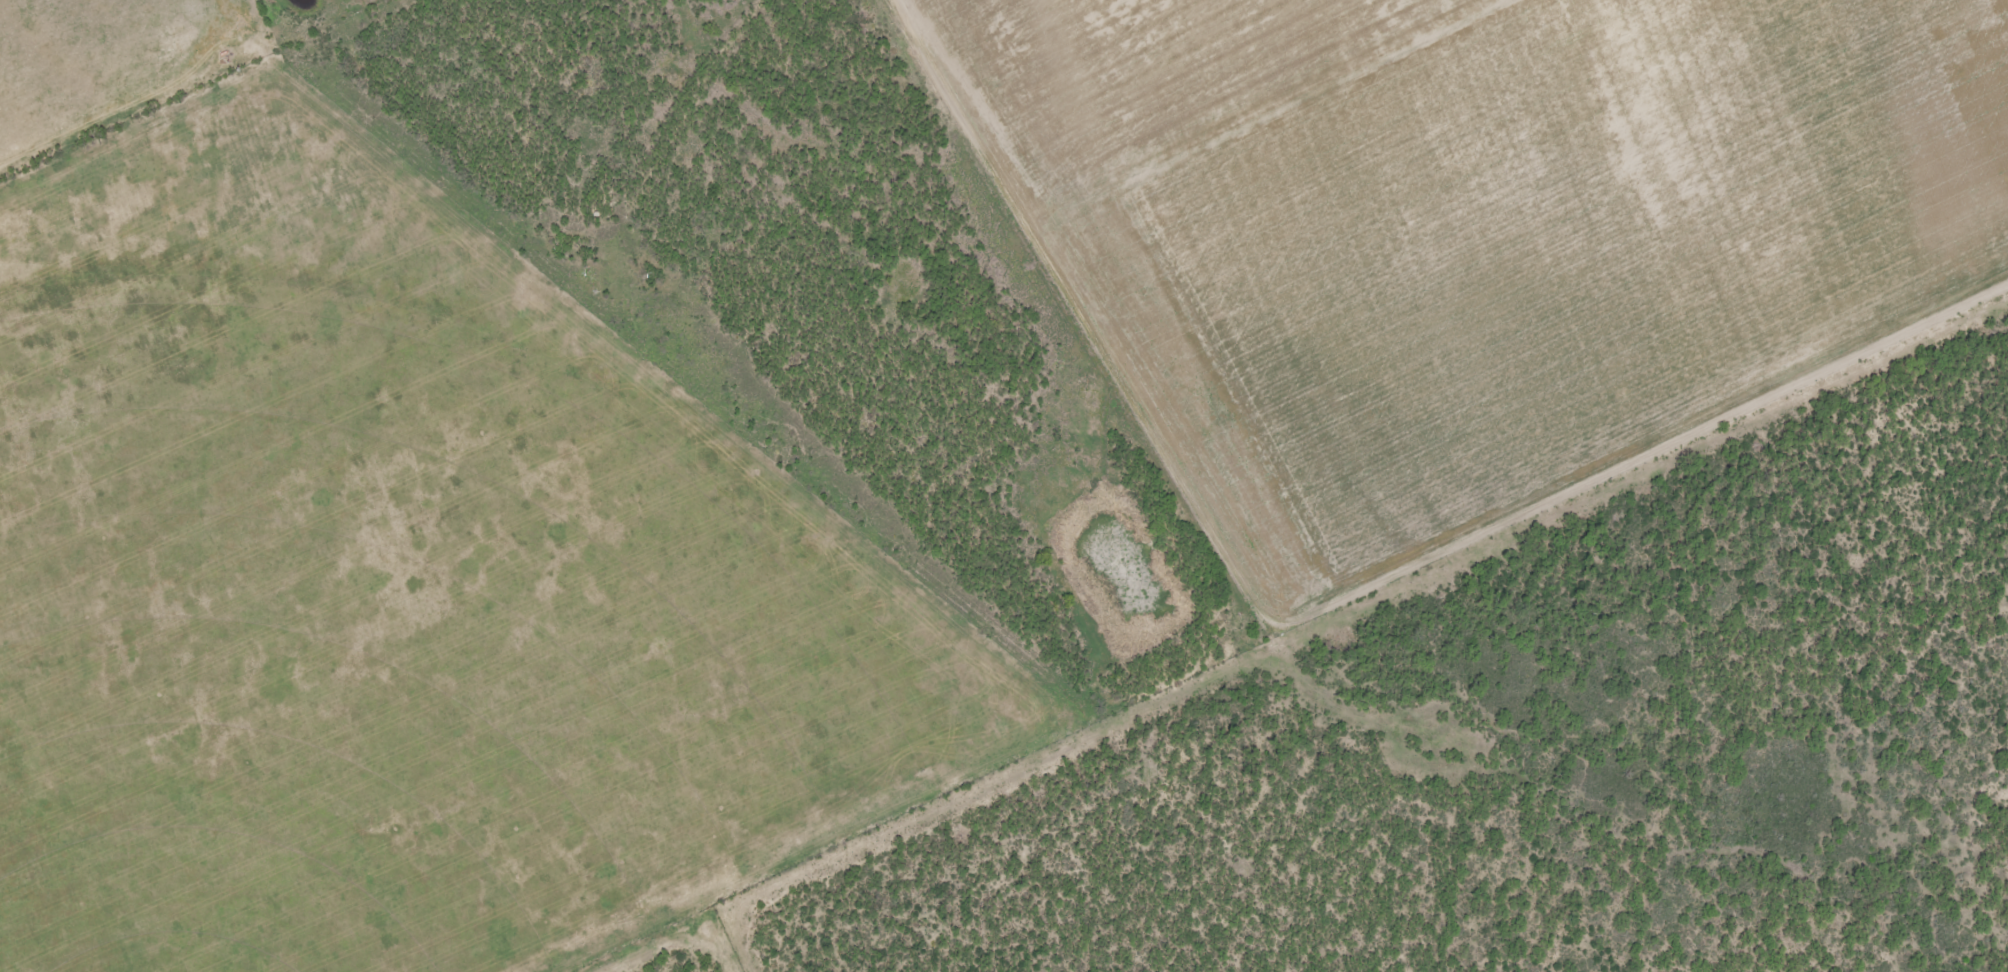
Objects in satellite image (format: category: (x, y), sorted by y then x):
road: (700, 66)
road: (725, 942)

